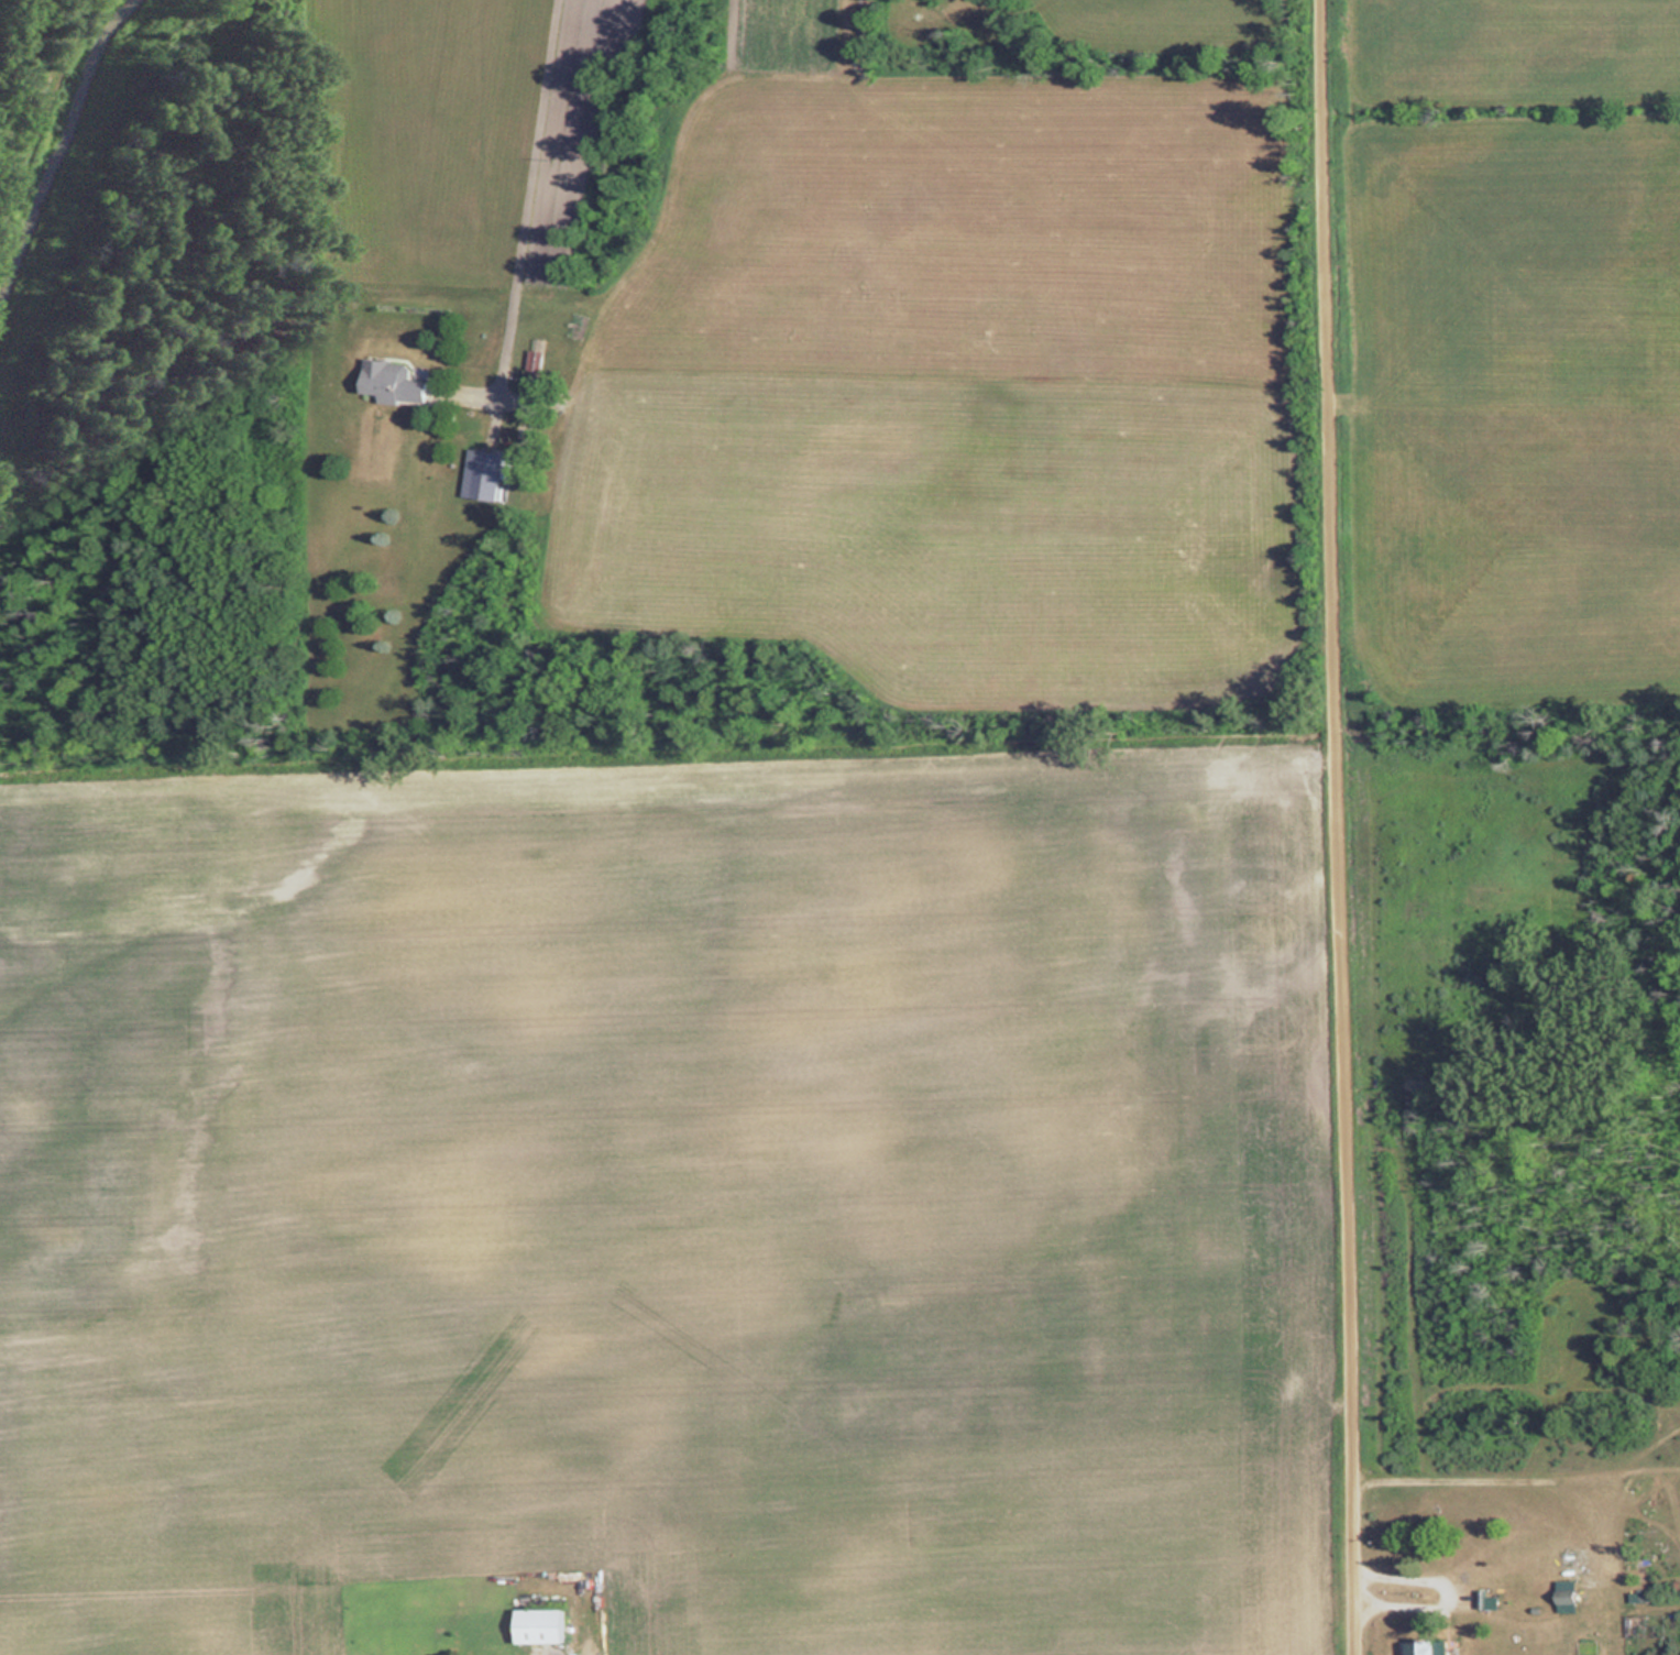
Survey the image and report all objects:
road: (525, 210)
building: (394, 382)
road: (1339, 826)
building: (1567, 1592)
building: (541, 1625)
building: (1421, 1648)

